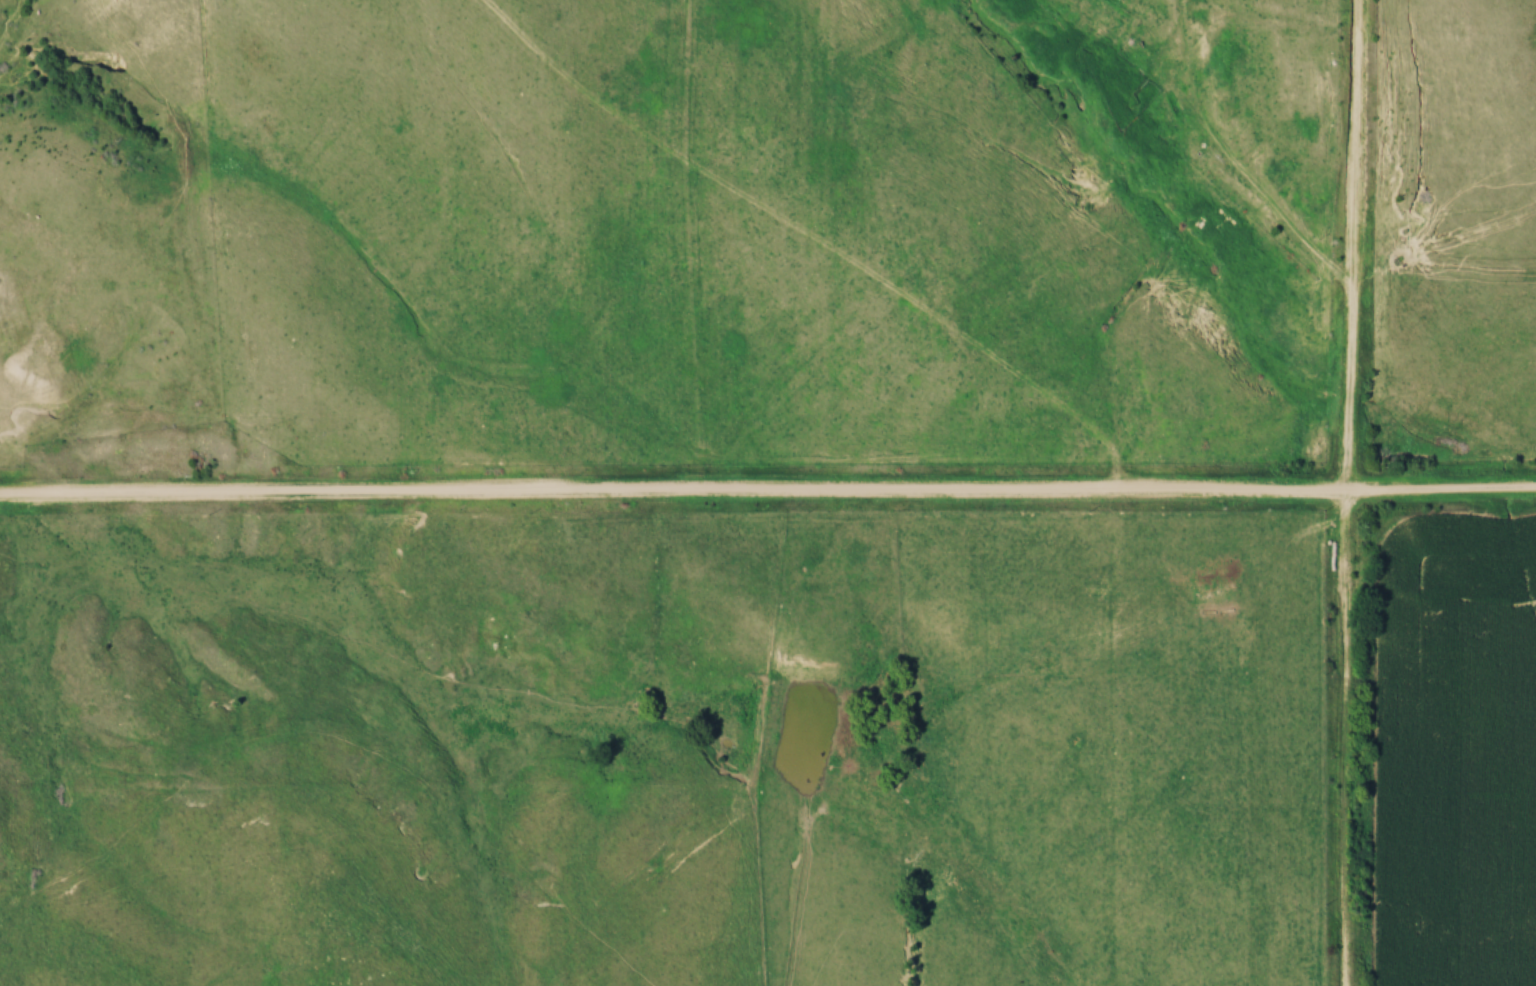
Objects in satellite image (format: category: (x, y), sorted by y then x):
road: (1354, 247)
road: (768, 496)
road: (1347, 740)
crop: (1458, 754)

